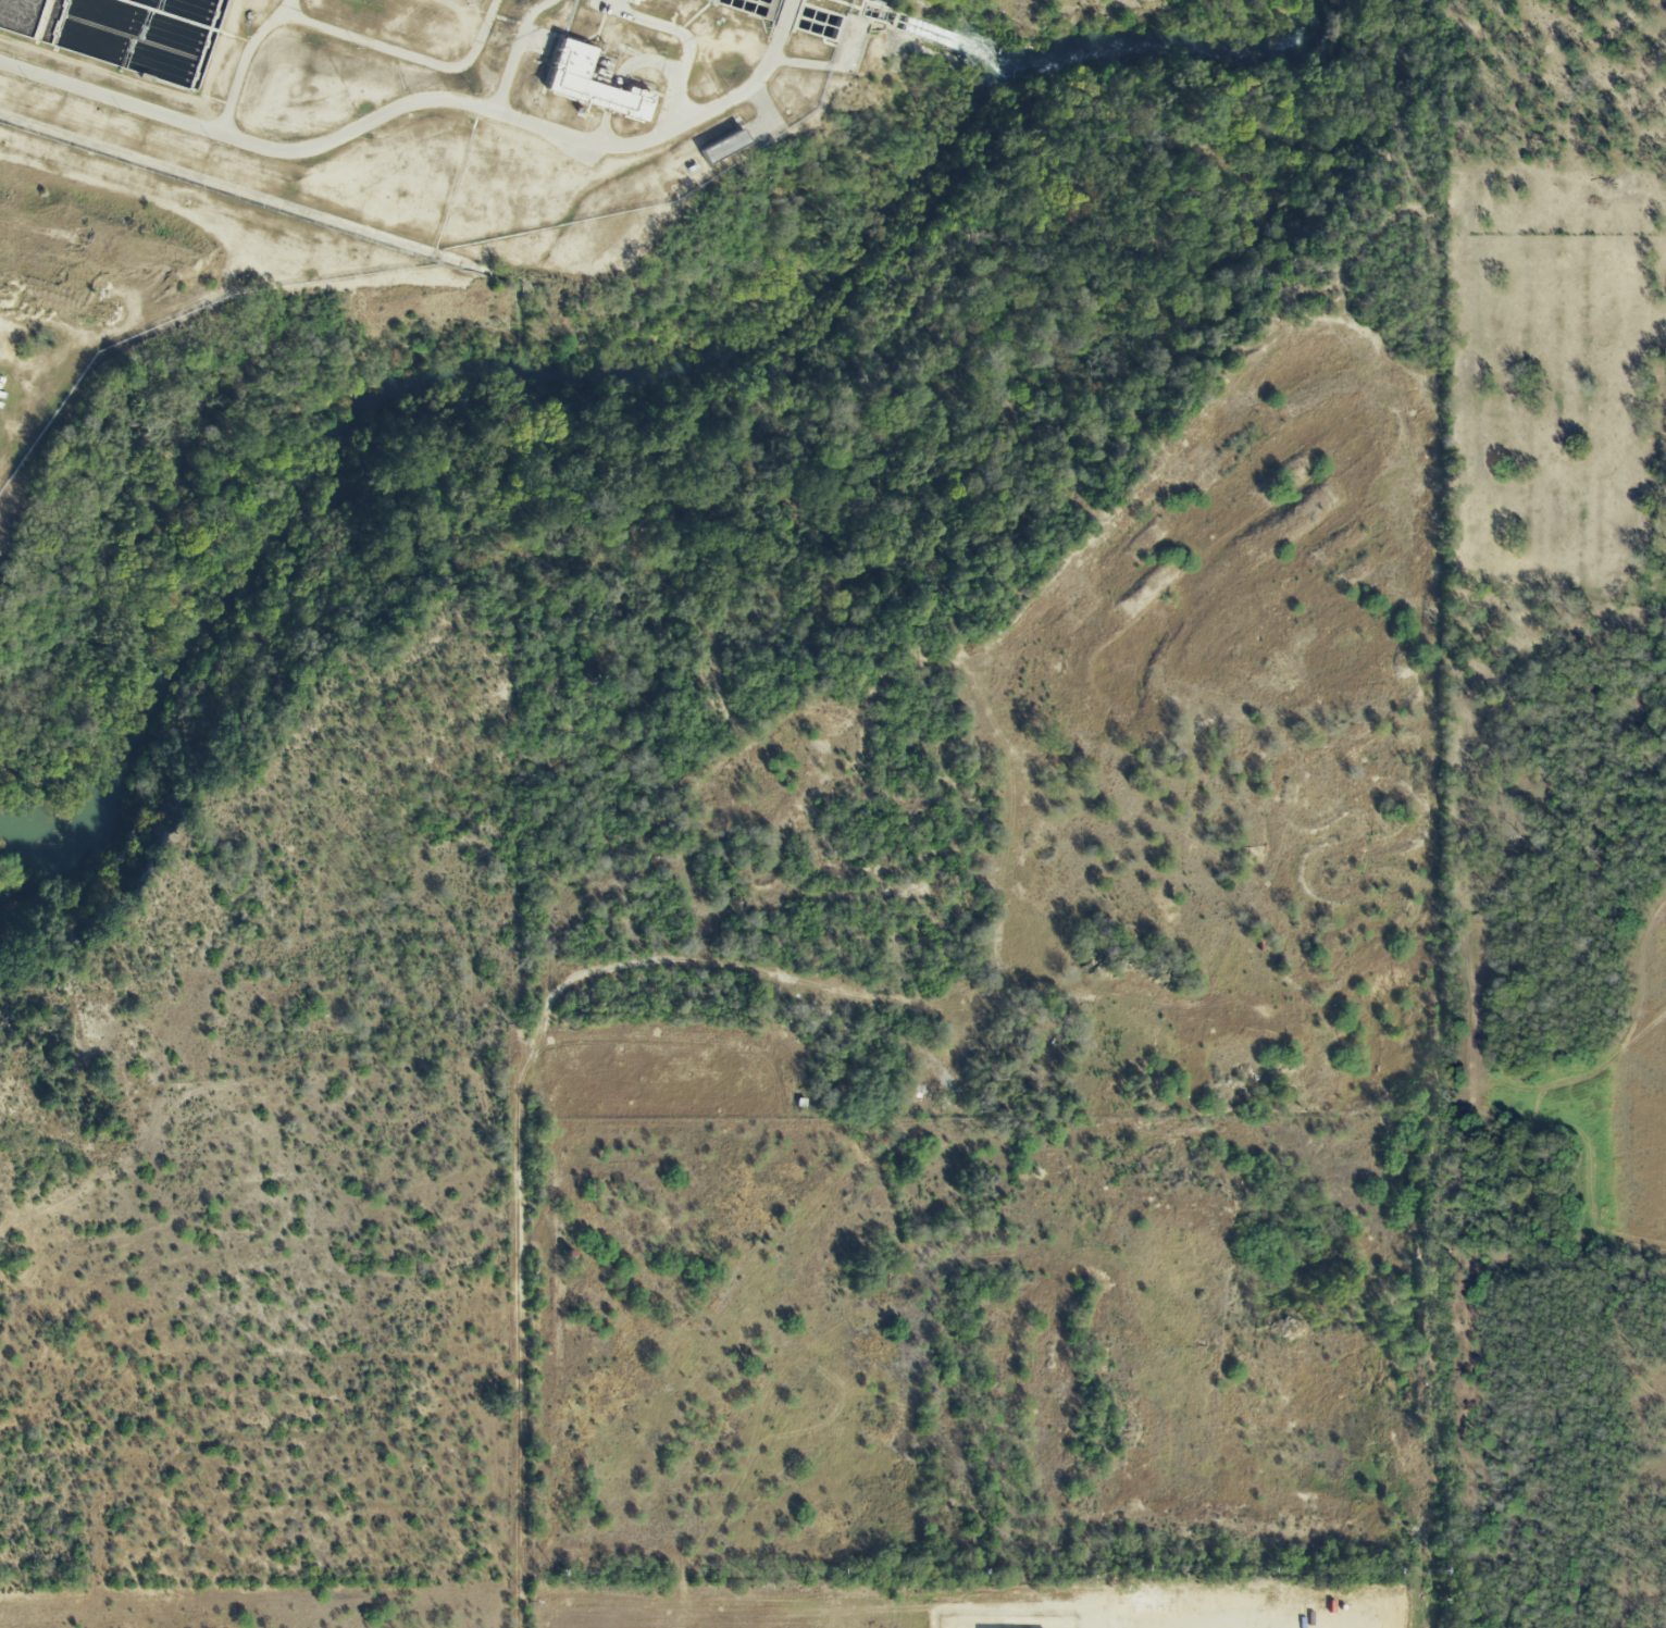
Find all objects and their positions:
building: (593, 84)
road: (422, 99)
wastewater plant: (375, 147)
river: (608, 361)
road: (518, 1349)

